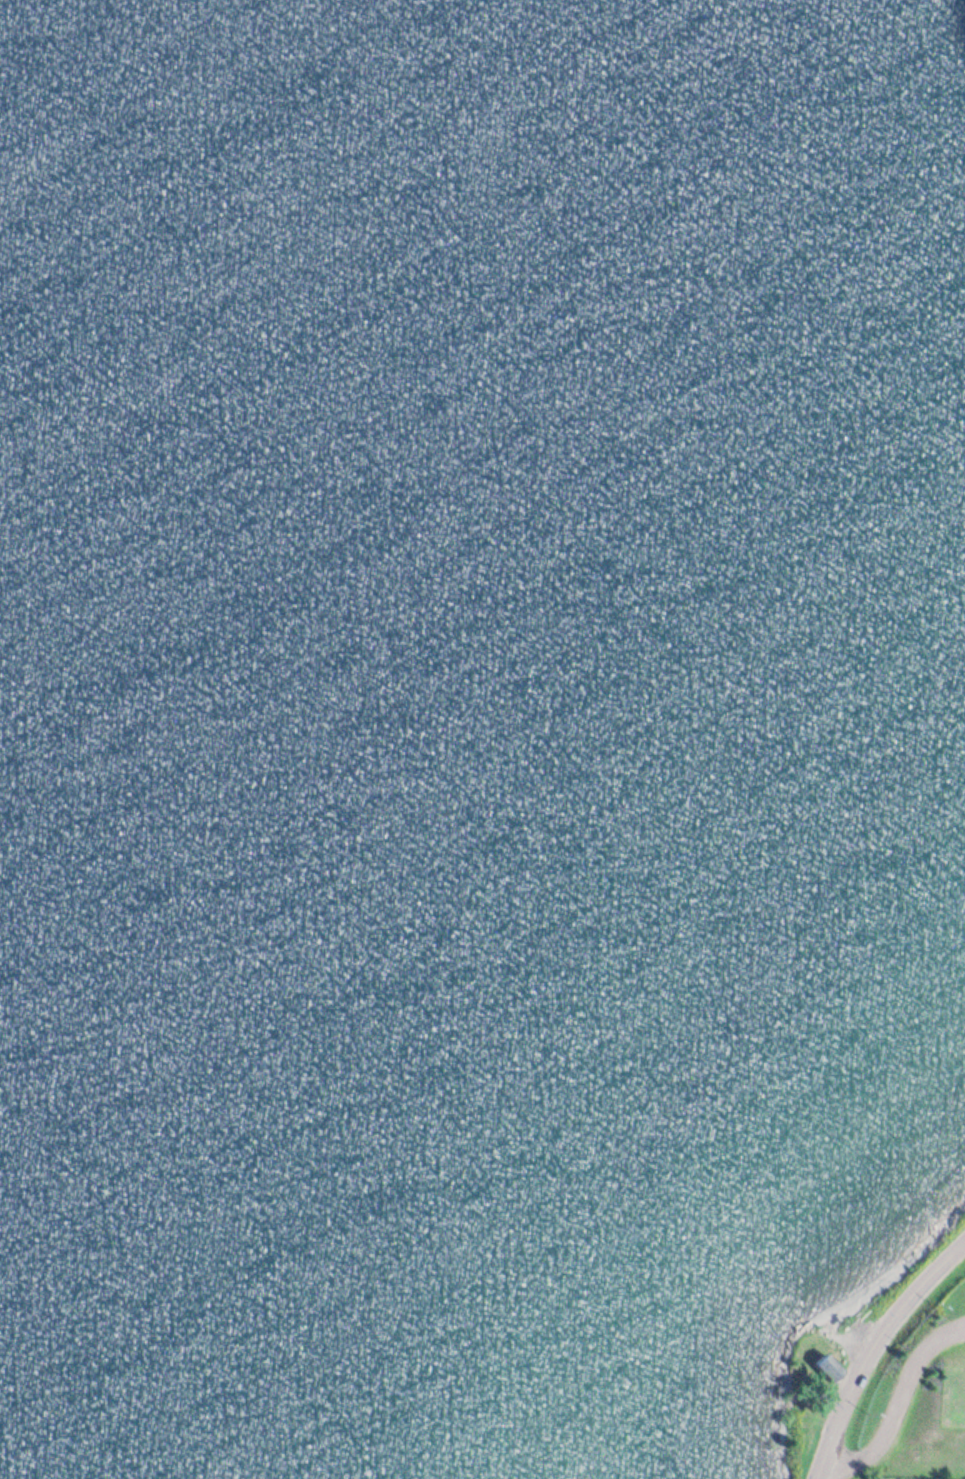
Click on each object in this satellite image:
road: (872, 1347)
building: (818, 1366)
road: (894, 1404)

